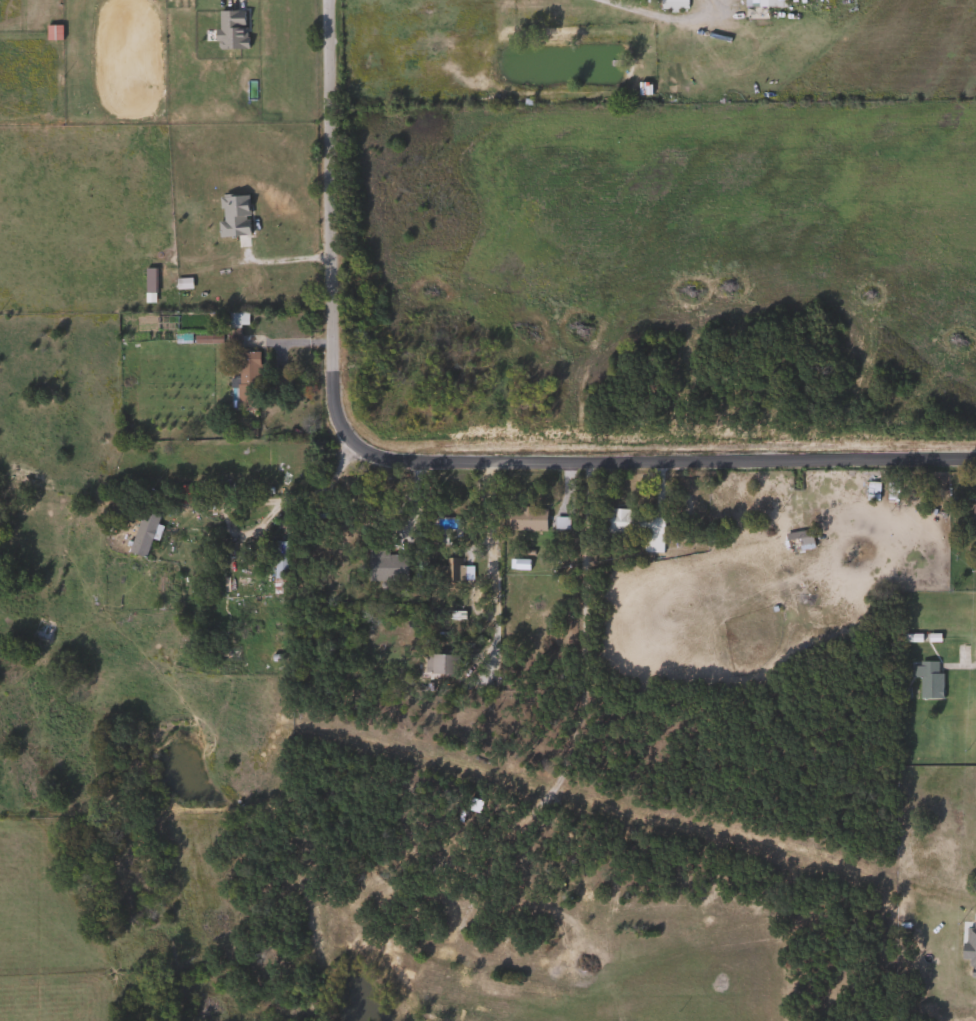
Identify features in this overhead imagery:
building: (760, 3)
building: (670, 5)
road: (668, 17)
building: (228, 29)
building: (231, 215)
building: (147, 279)
building: (244, 375)
road: (433, 461)
building: (869, 491)
building: (971, 516)
building: (523, 519)
building: (616, 521)
building: (140, 532)
building: (795, 541)
building: (647, 547)
building: (191, 554)
building: (448, 564)
building: (277, 566)
building: (383, 566)
road: (493, 566)
building: (439, 665)
road: (967, 665)
building: (924, 678)

